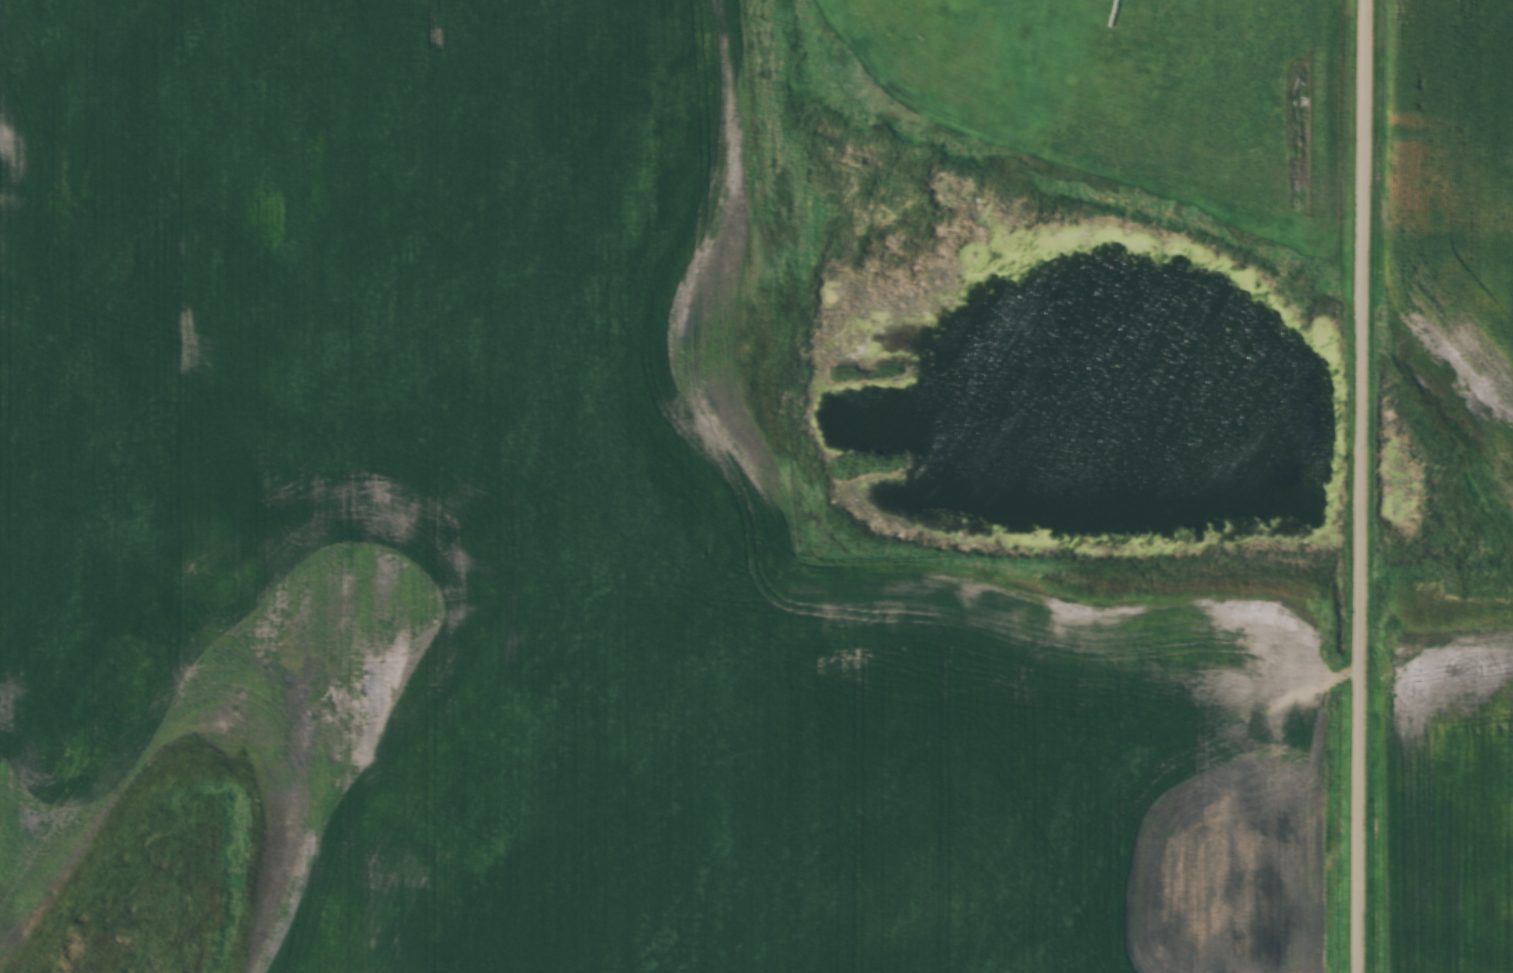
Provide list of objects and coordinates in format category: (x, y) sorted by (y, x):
road: (1364, 486)

